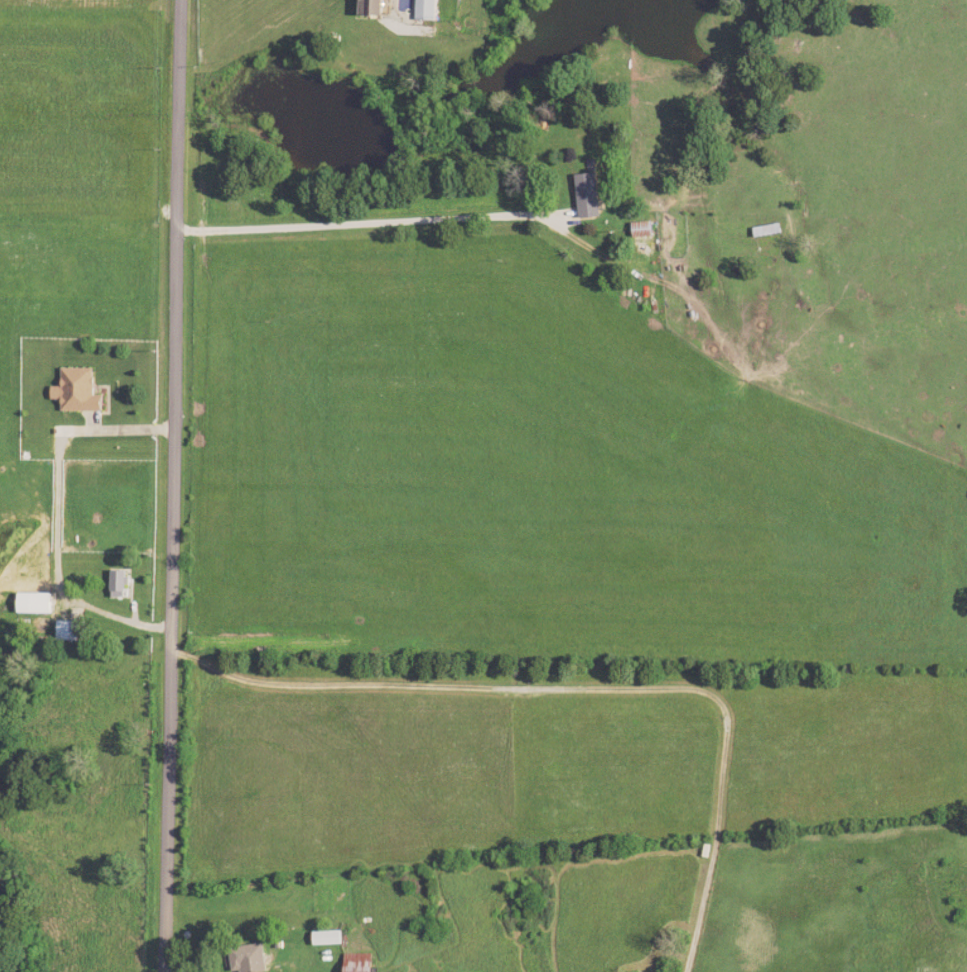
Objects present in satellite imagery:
building: (378, 7)
building: (429, 10)
building: (590, 196)
road: (486, 217)
building: (645, 230)
building: (79, 392)
road: (174, 486)
building: (120, 584)
building: (37, 604)
road: (120, 620)
building: (69, 631)
road: (585, 687)
building: (330, 938)
building: (250, 959)
road: (290, 960)

